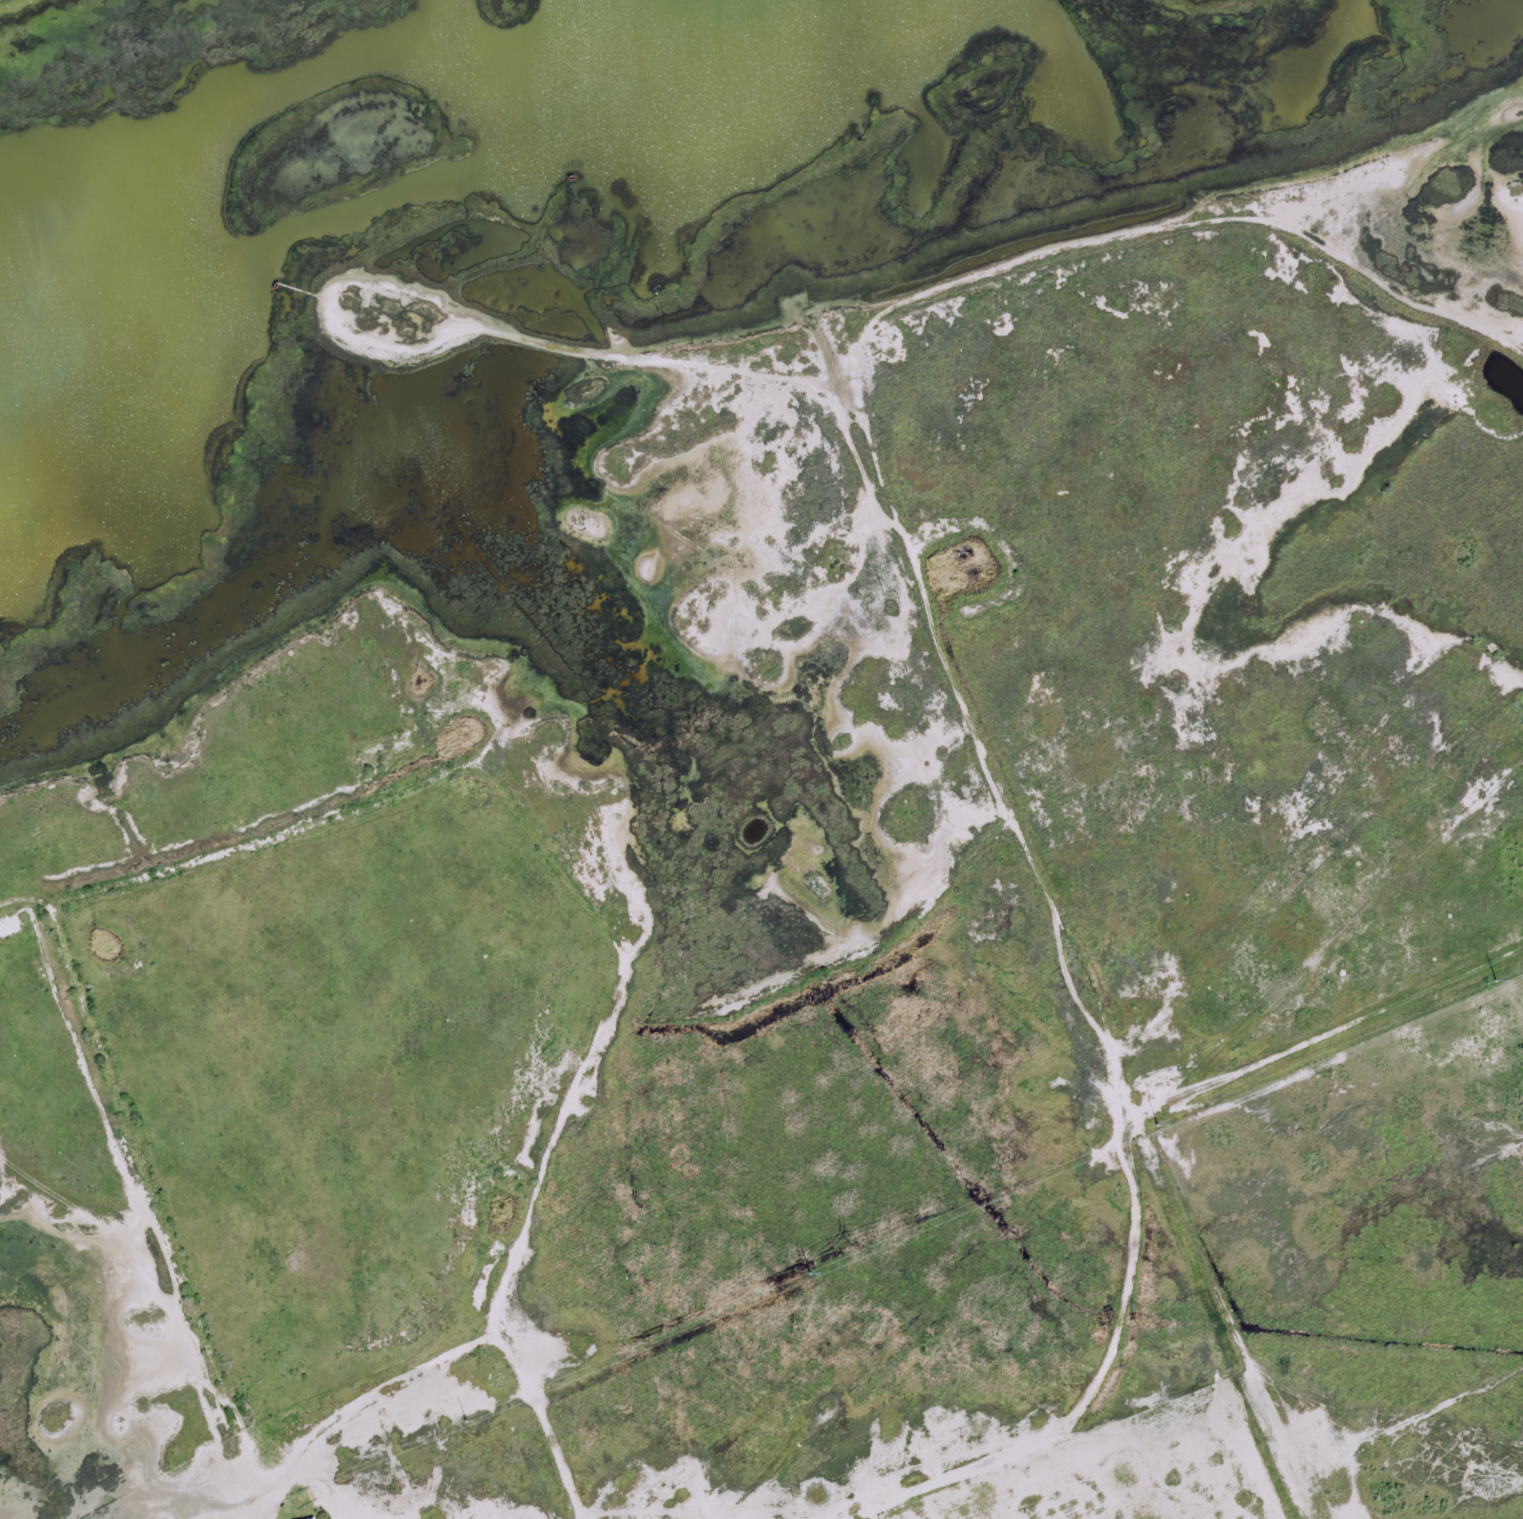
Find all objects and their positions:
building: (314, 1518)

